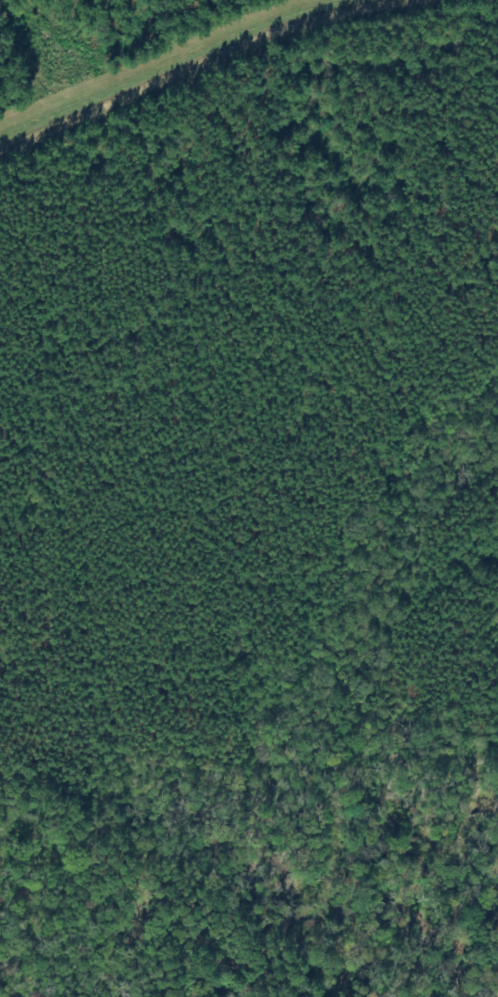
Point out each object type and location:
road: (245, 73)

